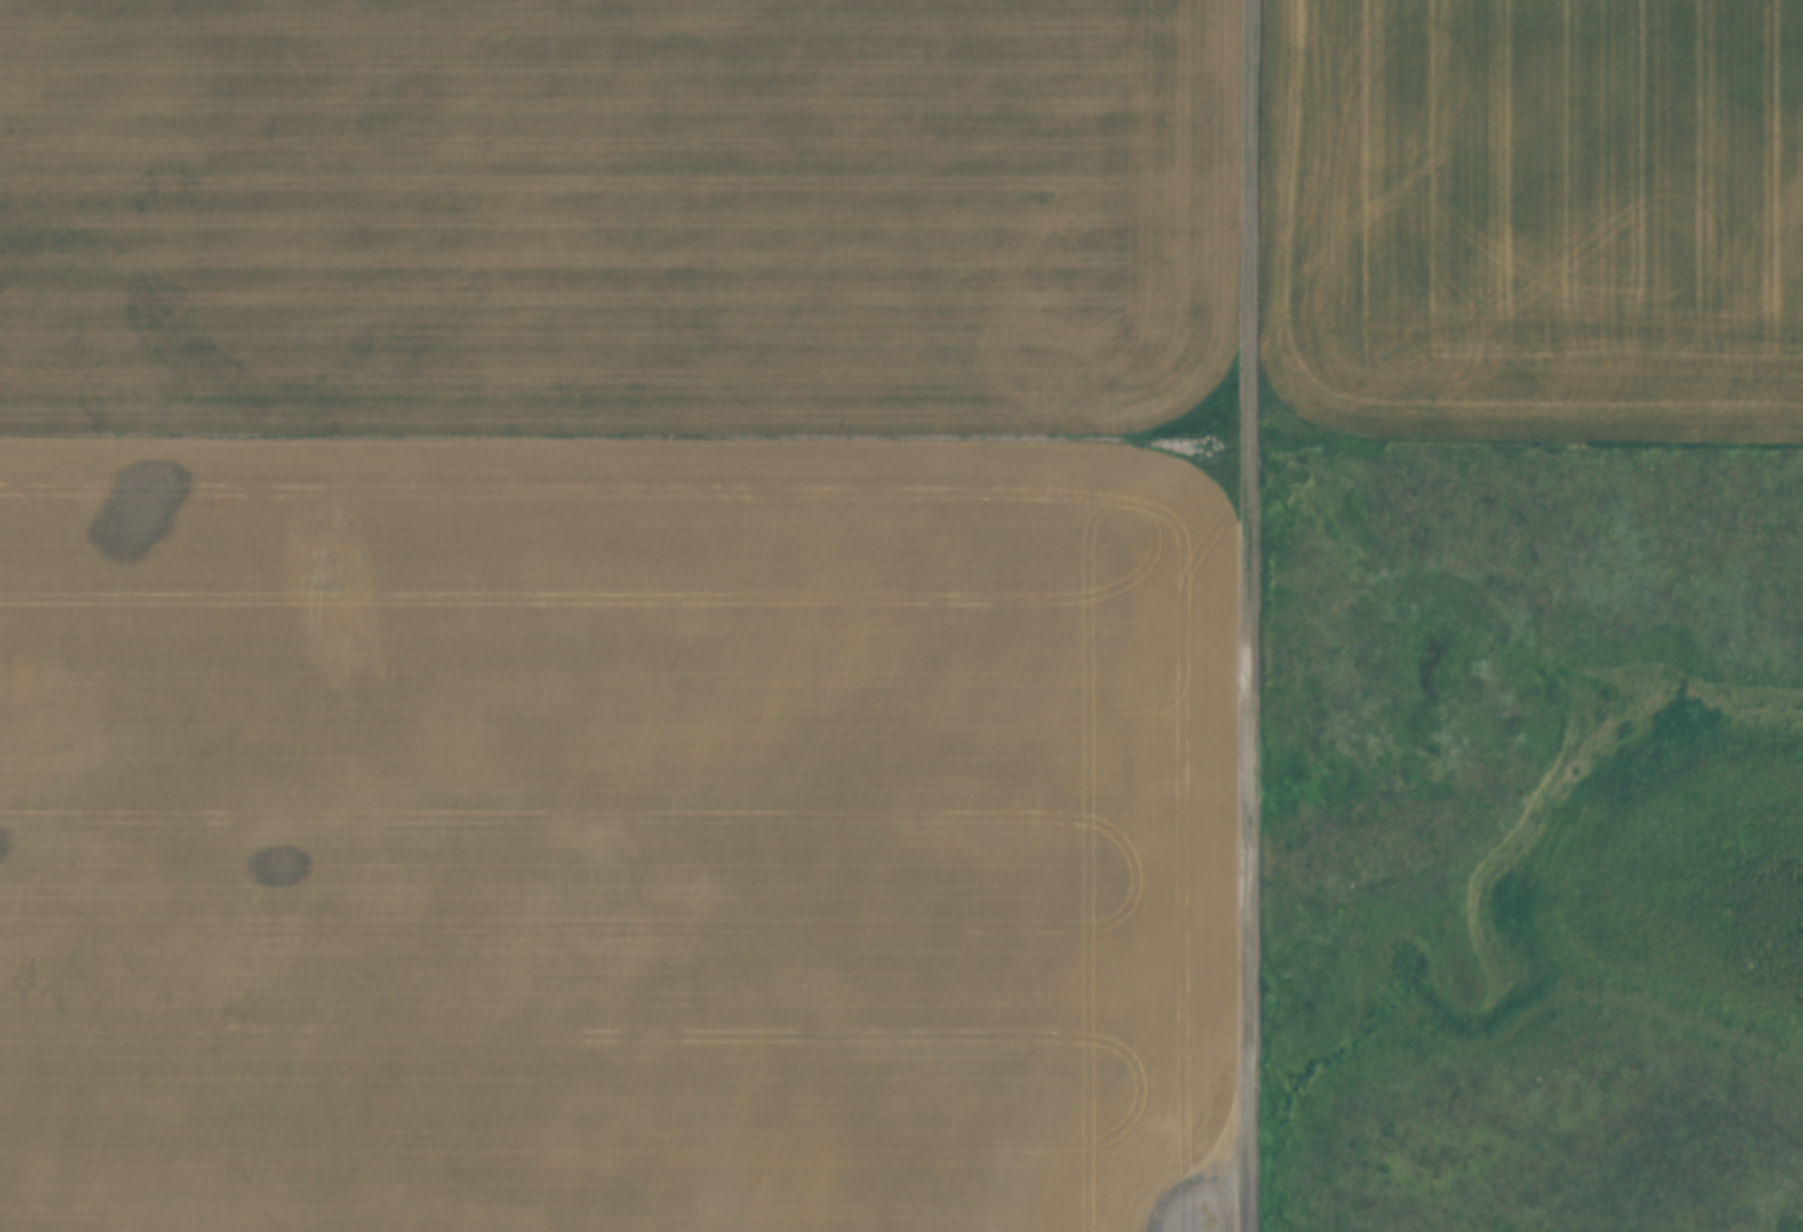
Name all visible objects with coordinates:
road: (1250, 615)

